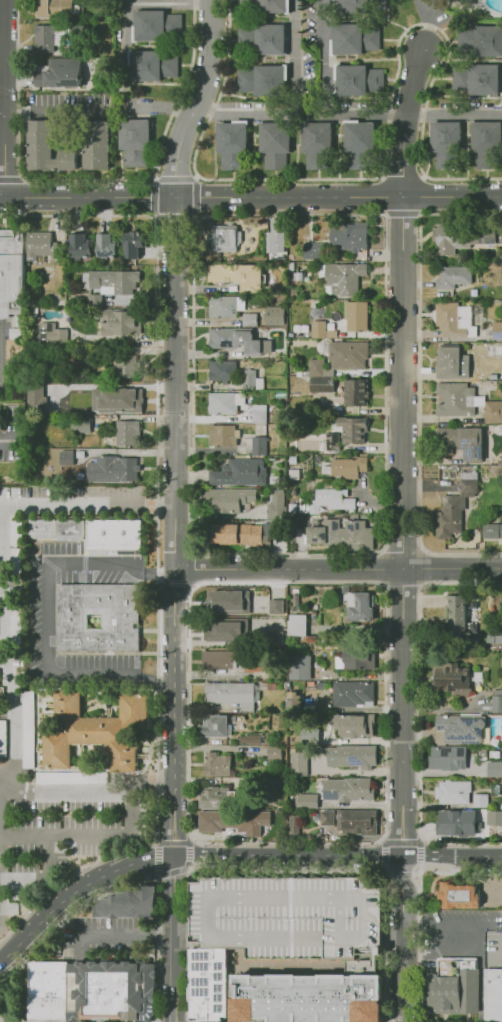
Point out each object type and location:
building: (261, 5)
building: (360, 5)
building: (40, 9)
building: (155, 25)
building: (44, 38)
building: (352, 38)
building: (262, 39)
building: (479, 41)
road: (293, 57)
road: (323, 57)
building: (150, 64)
building: (61, 73)
building: (355, 79)
building: (262, 80)
building: (478, 80)
road: (2, 98)
road: (160, 108)
road: (51, 113)
road: (303, 114)
road: (457, 115)
building: (444, 141)
building: (274, 142)
building: (486, 142)
building: (134, 143)
building: (231, 143)
building: (316, 143)
building: (357, 143)
building: (97, 144)
building: (47, 148)
road: (250, 197)
building: (276, 236)
building: (486, 236)
building: (351, 237)
building: (225, 239)
building: (446, 239)
building: (134, 244)
building: (39, 246)
building: (79, 247)
building: (108, 247)
building: (312, 251)
building: (12, 274)
building: (236, 276)
building: (453, 276)
building: (344, 278)
building: (108, 280)
building: (93, 300)
building: (226, 307)
road: (405, 308)
building: (274, 316)
building: (357, 317)
building: (249, 319)
building: (449, 321)
building: (124, 322)
building: (497, 329)
building: (321, 330)
building: (59, 333)
building: (13, 334)
building: (226, 338)
building: (348, 355)
building: (126, 364)
building: (449, 364)
building: (319, 367)
building: (222, 370)
building: (249, 380)
building: (106, 388)
building: (322, 389)
building: (356, 392)
building: (55, 394)
building: (35, 396)
building: (455, 398)
building: (116, 399)
building: (221, 403)
road: (178, 410)
building: (258, 412)
building: (494, 412)
building: (0, 421)
building: (78, 423)
road: (11, 429)
building: (353, 429)
building: (129, 433)
building: (223, 435)
building: (467, 443)
building: (259, 445)
building: (4, 452)
building: (61, 459)
building: (497, 468)
building: (110, 469)
building: (345, 469)
building: (237, 472)
building: (230, 500)
building: (330, 501)
building: (276, 503)
building: (457, 504)
road: (89, 507)
building: (55, 529)
building: (492, 530)
building: (14, 532)
building: (114, 533)
building: (231, 534)
building: (344, 535)
road: (156, 547)
building: (14, 560)
road: (340, 568)
road: (190, 587)
building: (210, 601)
building: (229, 601)
building: (430, 603)
building: (275, 606)
building: (358, 606)
building: (10, 614)
building: (99, 617)
building: (456, 617)
road: (50, 622)
building: (296, 626)
building: (226, 630)
building: (275, 638)
building: (495, 638)
road: (2, 648)
building: (218, 659)
building: (360, 661)
building: (298, 666)
building: (494, 676)
building: (453, 684)
building: (353, 693)
building: (231, 694)
building: (496, 705)
road: (402, 712)
building: (354, 725)
building: (214, 726)
building: (462, 726)
building: (93, 728)
building: (28, 729)
building: (308, 735)
building: (252, 737)
building: (3, 738)
building: (273, 754)
building: (356, 755)
building: (449, 758)
building: (214, 763)
building: (298, 763)
building: (494, 769)
building: (71, 777)
building: (349, 789)
building: (453, 793)
road: (85, 795)
building: (211, 798)
building: (306, 800)
building: (480, 801)
building: (328, 818)
building: (494, 819)
building: (234, 820)
building: (359, 821)
building: (456, 822)
building: (292, 824)
road: (85, 834)
road: (173, 841)
road: (189, 841)
road: (382, 841)
road: (420, 841)
road: (403, 843)
road: (184, 844)
parking lot: (56, 846)
road: (287, 856)
road: (452, 856)
road: (183, 869)
road: (288, 869)
road: (404, 874)
road: (135, 881)
road: (79, 894)
building: (460, 895)
road: (298, 898)
building: (128, 903)
road: (417, 903)
building: (288, 915)
parking lot: (288, 915)
road: (124, 932)
road: (171, 938)
road: (403, 938)
road: (237, 967)
road: (321, 968)
building: (208, 984)
building: (47, 991)
building: (113, 991)
building: (456, 991)
building: (494, 994)
building: (309, 997)
road: (11, 1020)
flagpole: (463, 1020)

